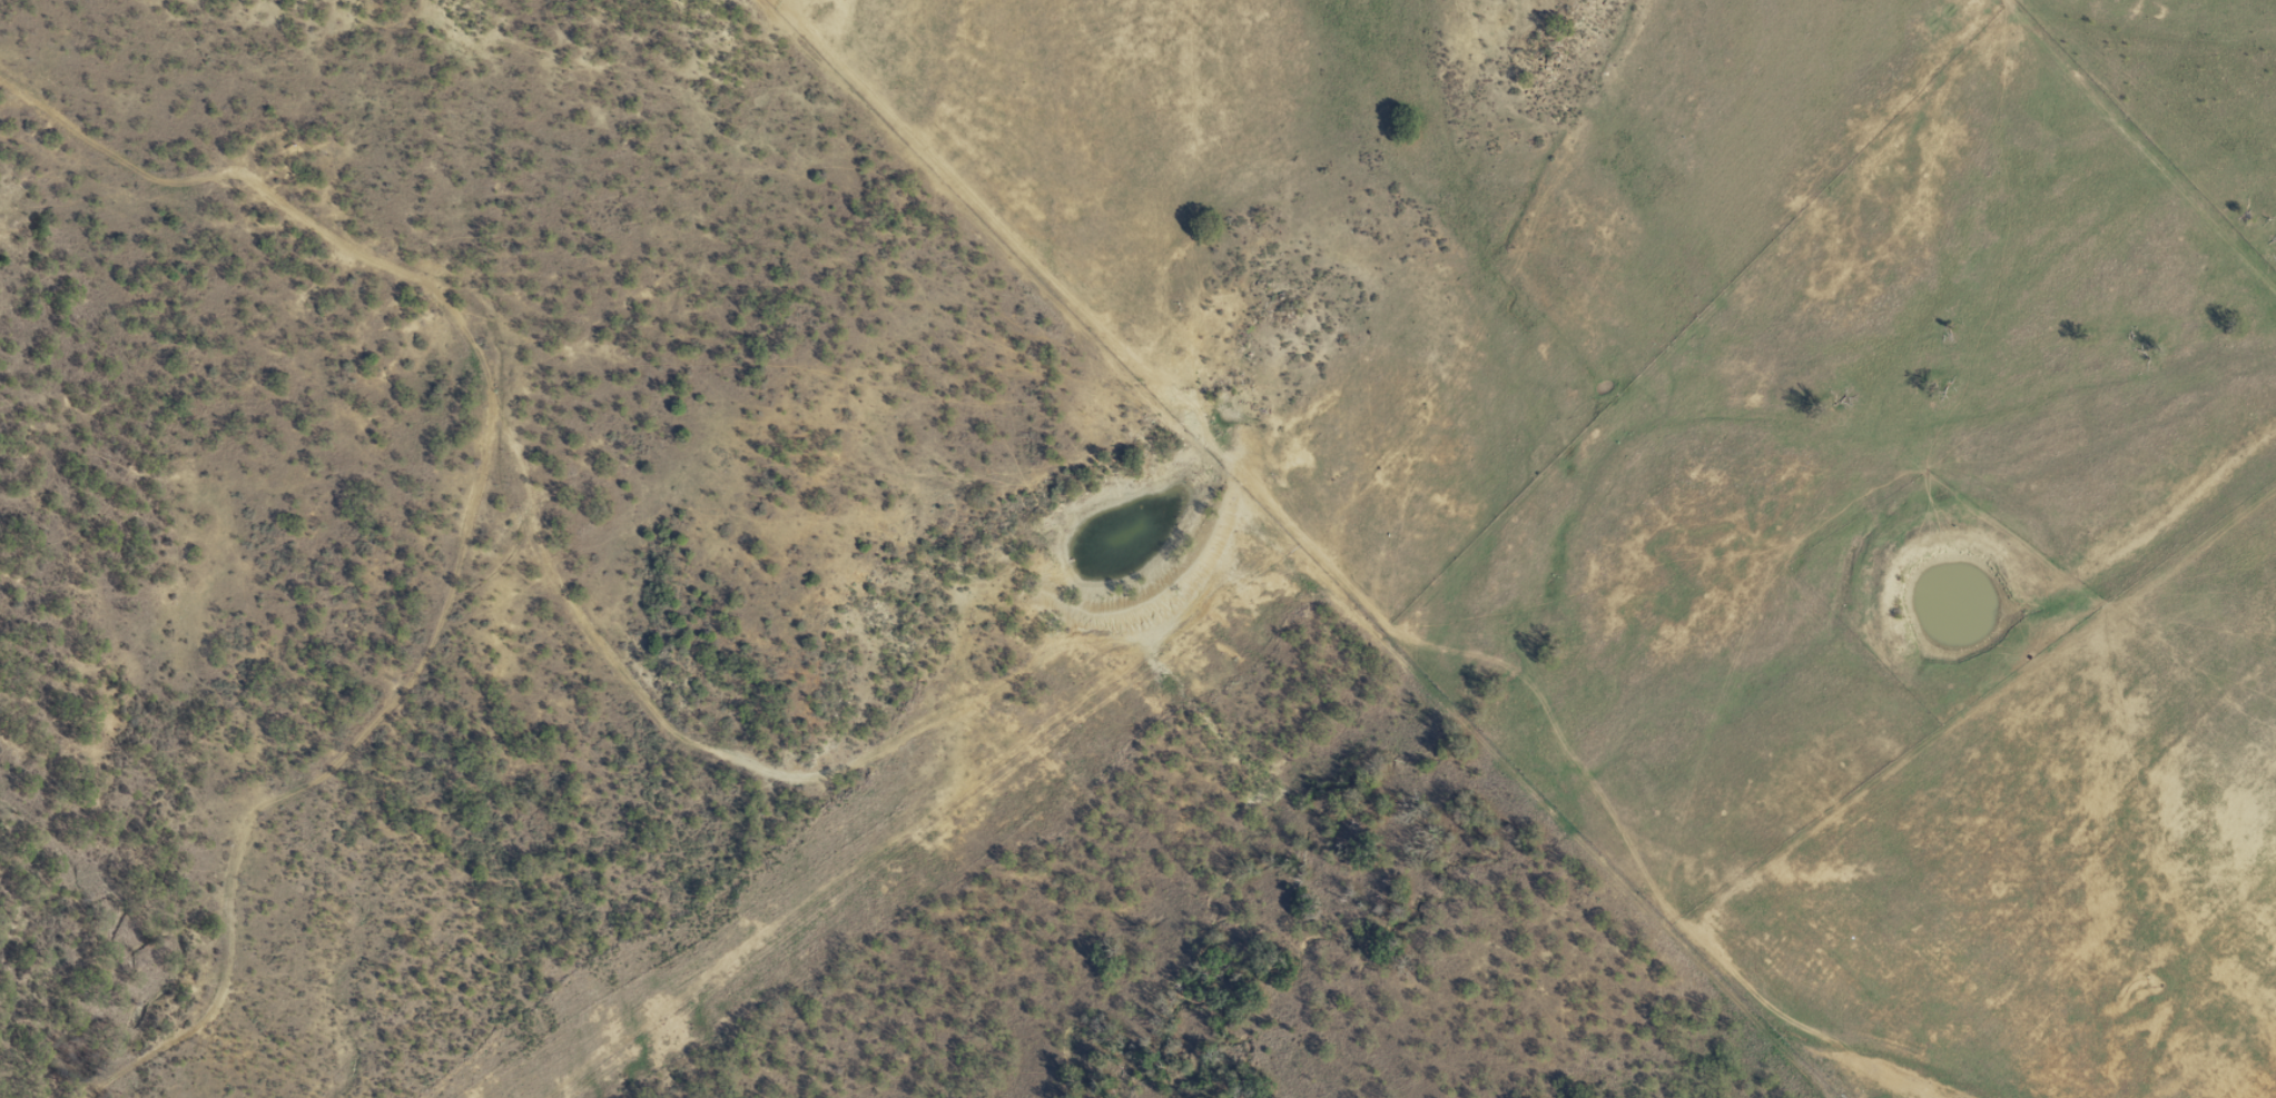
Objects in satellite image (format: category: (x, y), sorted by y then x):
road: (2122, 1041)

